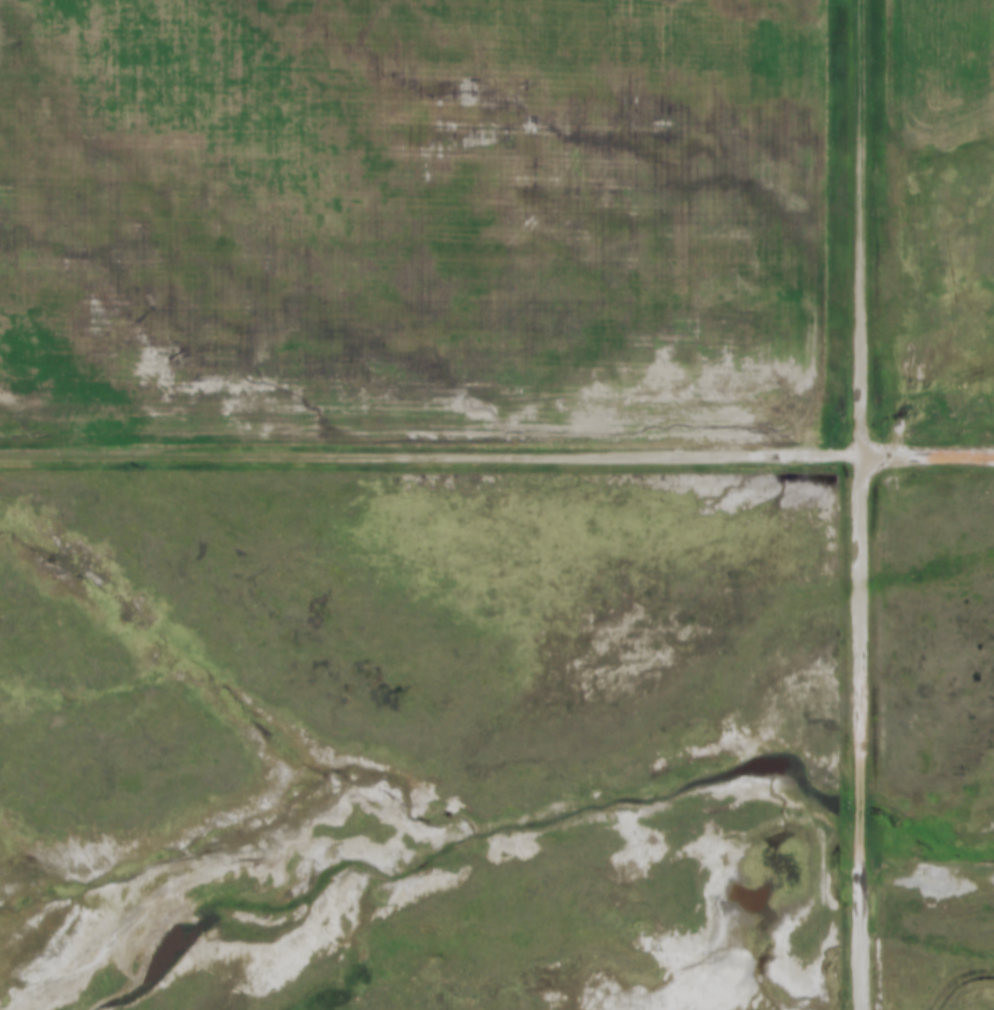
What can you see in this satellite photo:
road: (861, 226)
road: (430, 452)
road: (927, 458)
road: (862, 732)

